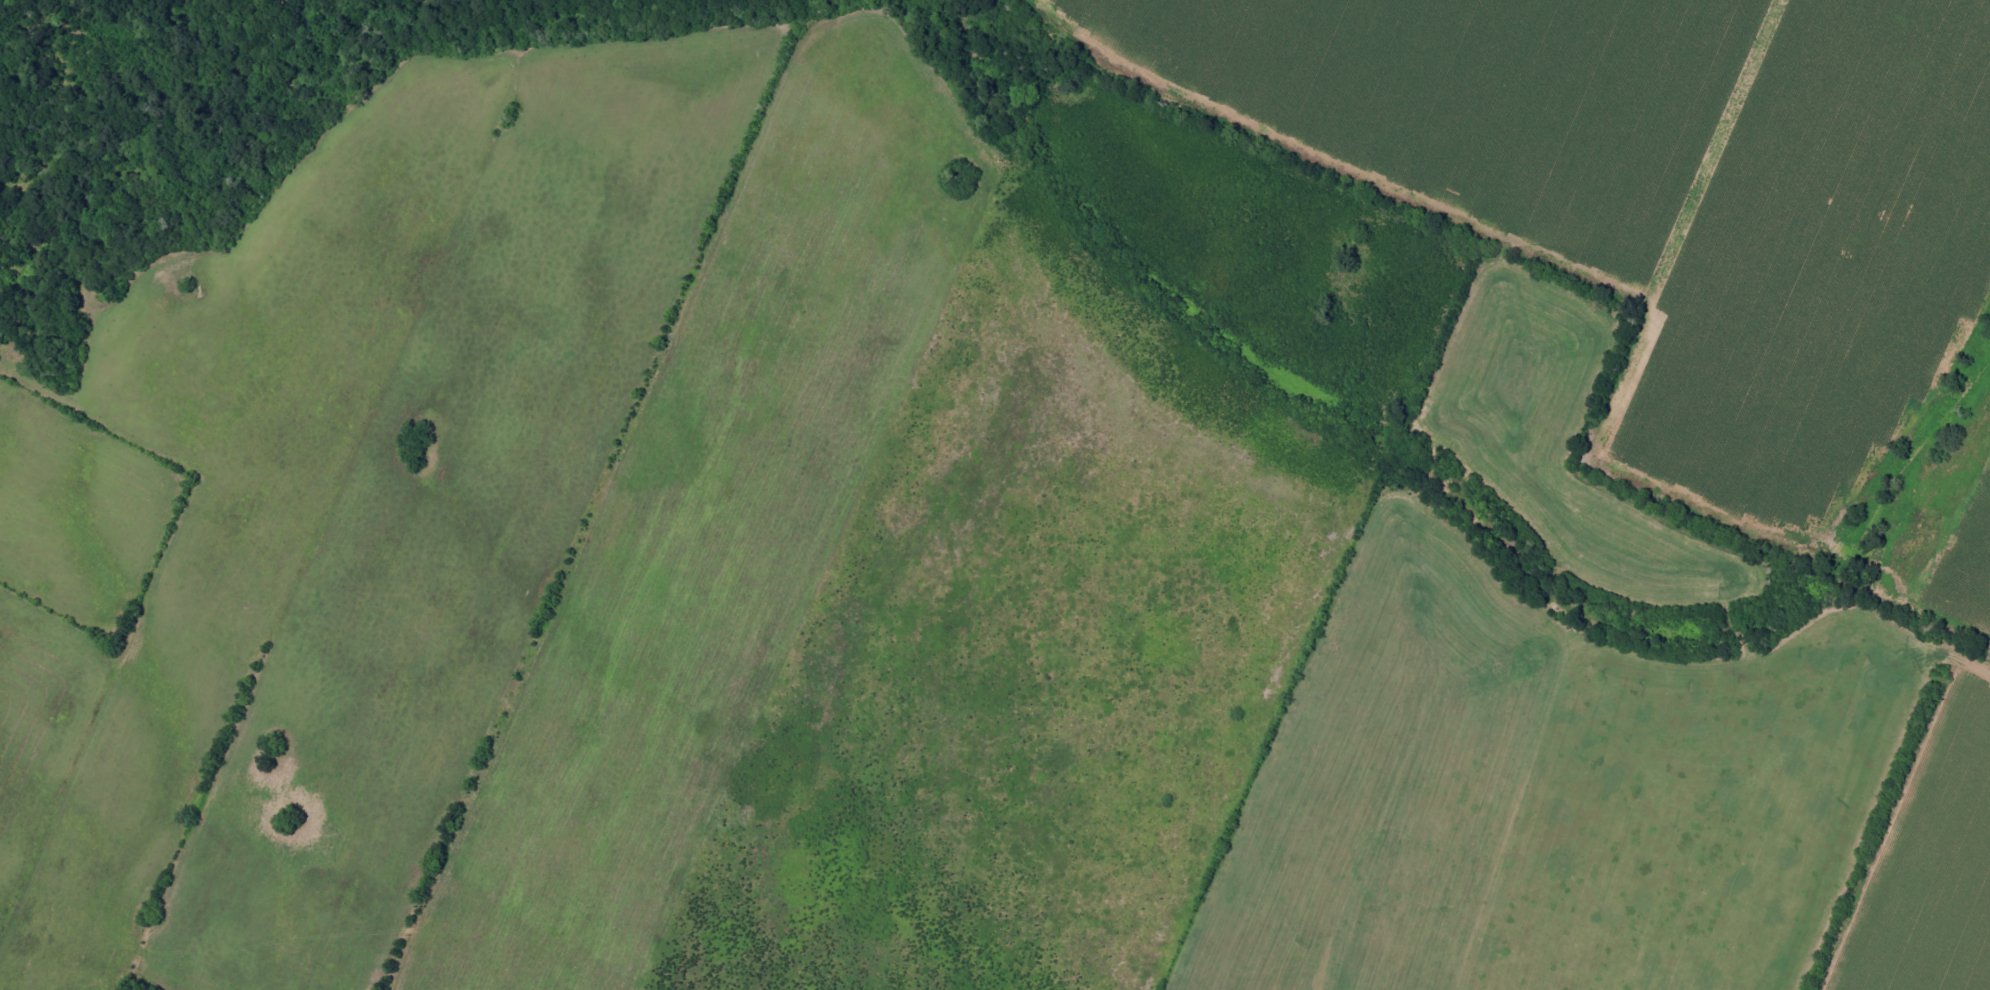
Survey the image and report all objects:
road: (780, 637)

